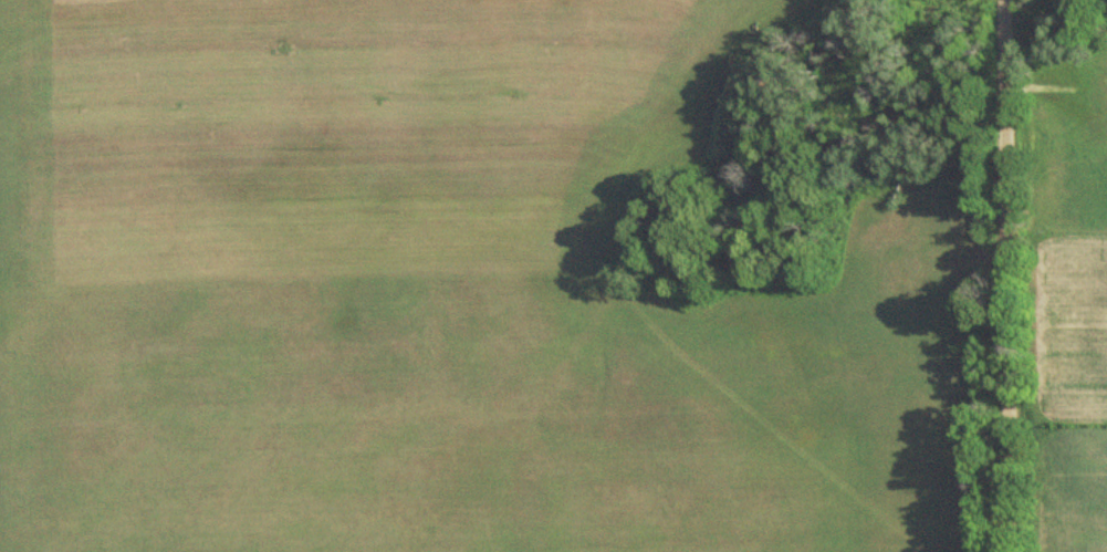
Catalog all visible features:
road: (996, 275)

